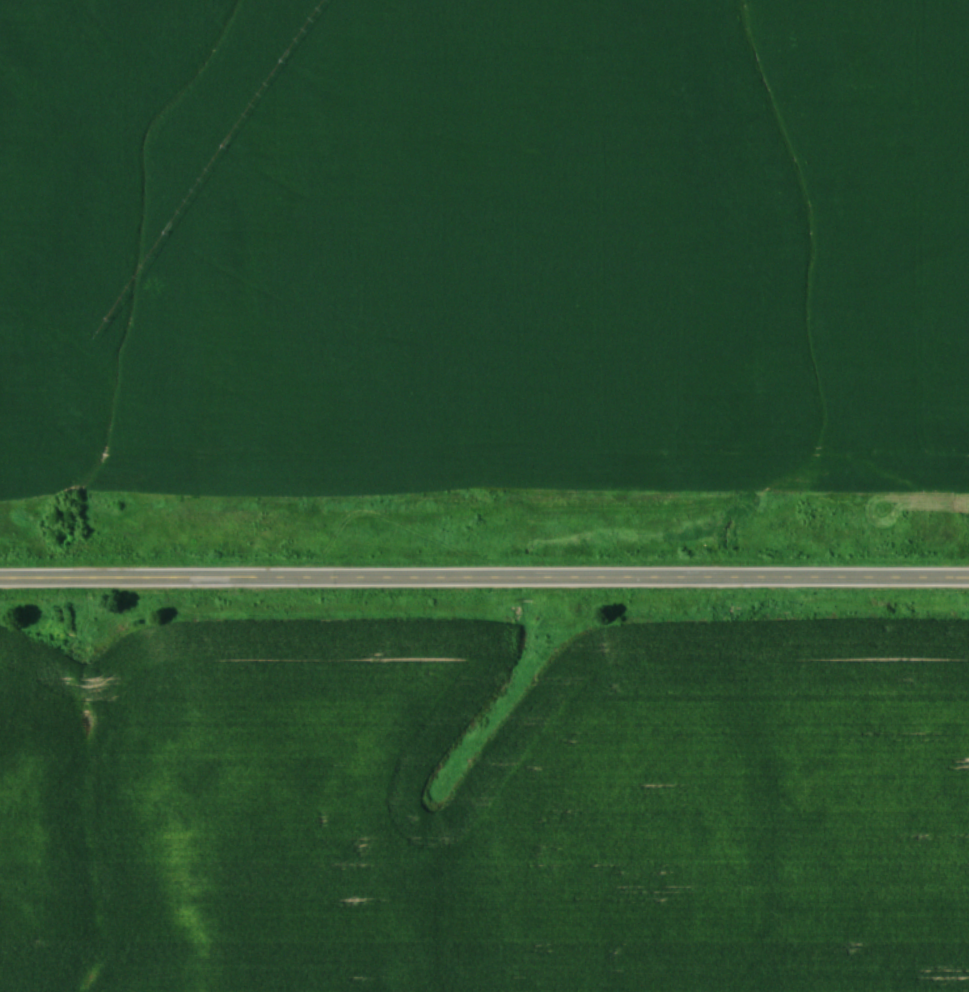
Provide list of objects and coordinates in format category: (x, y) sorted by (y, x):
road: (484, 565)

